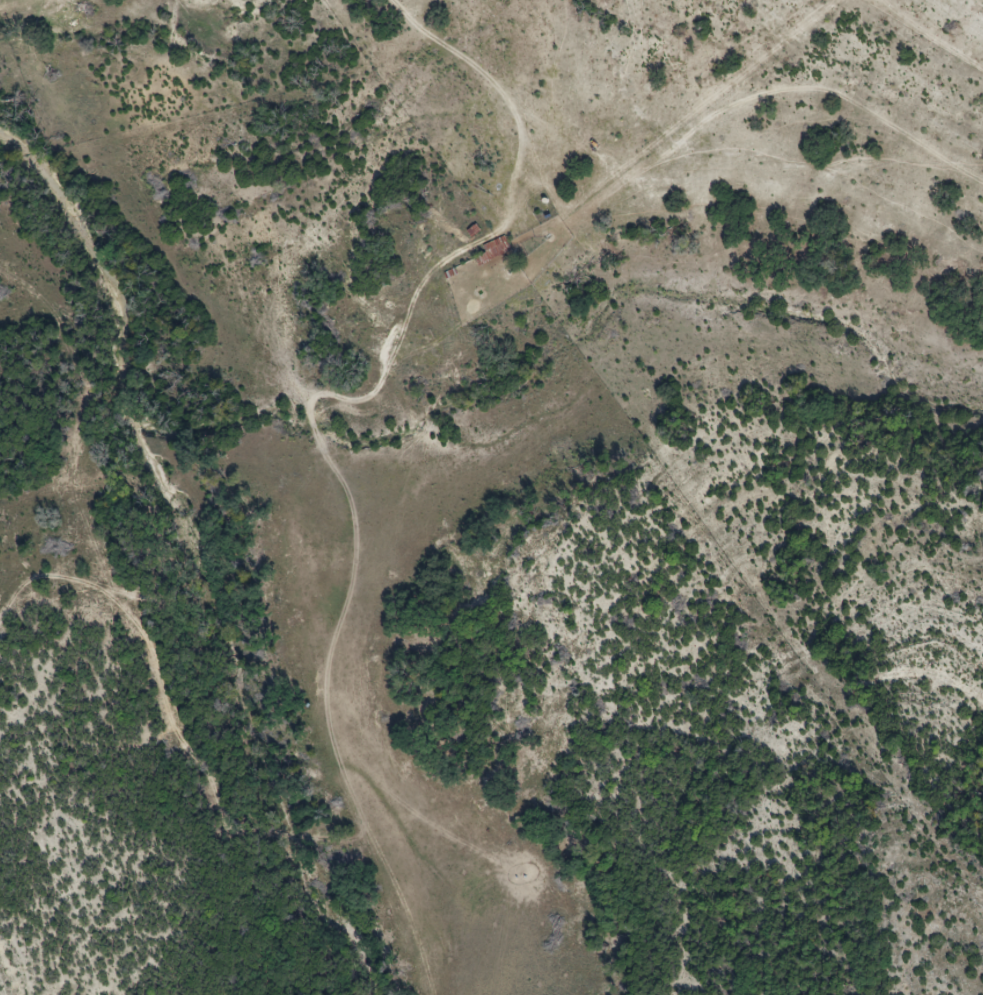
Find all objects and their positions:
road: (612, 142)

